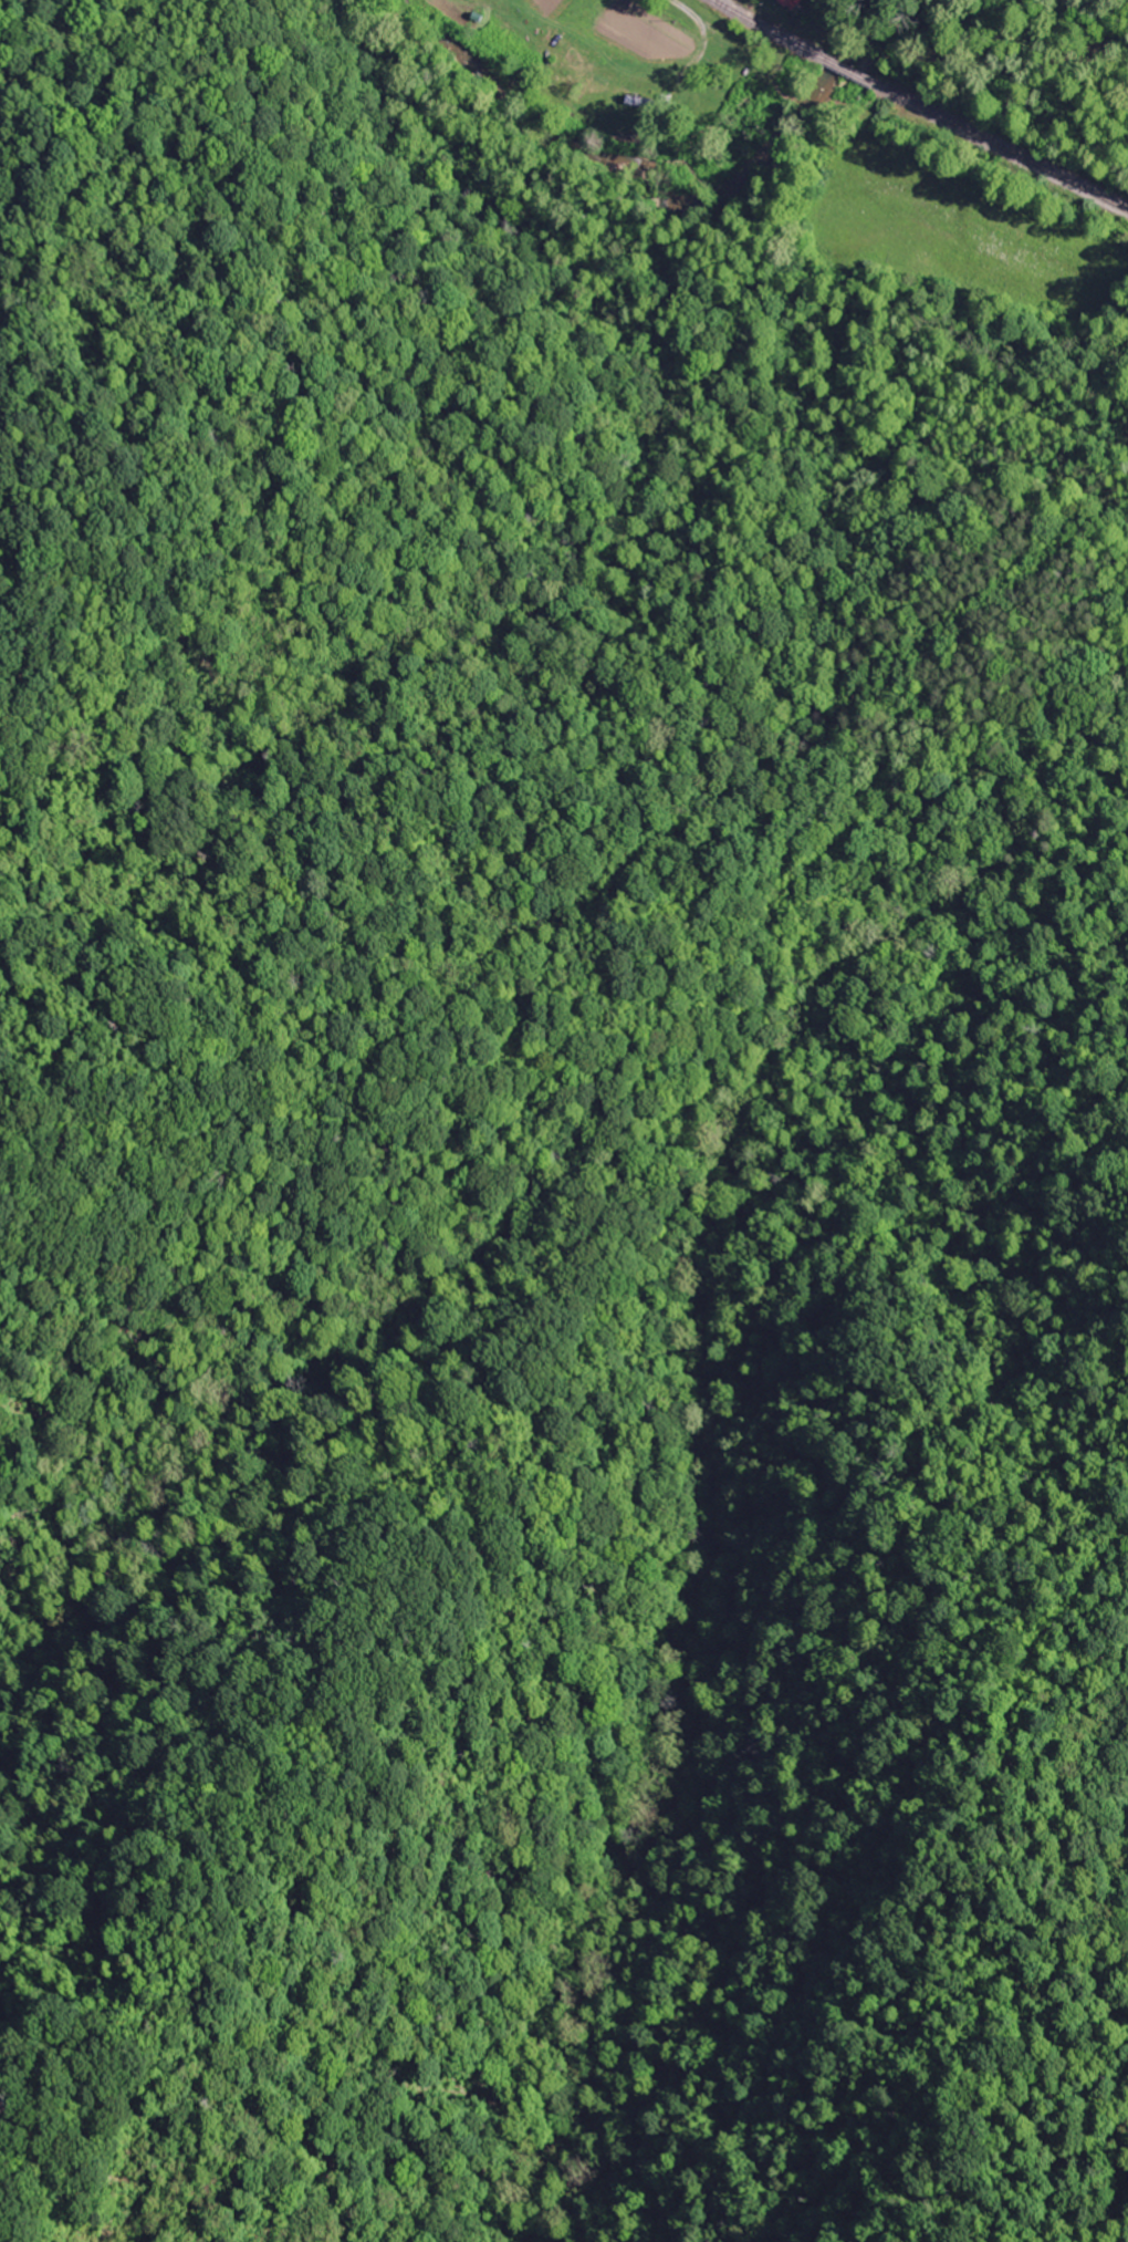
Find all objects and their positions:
building: (788, 4)
railway: (764, 27)
road: (700, 42)
railway: (861, 77)
railway: (1016, 154)

